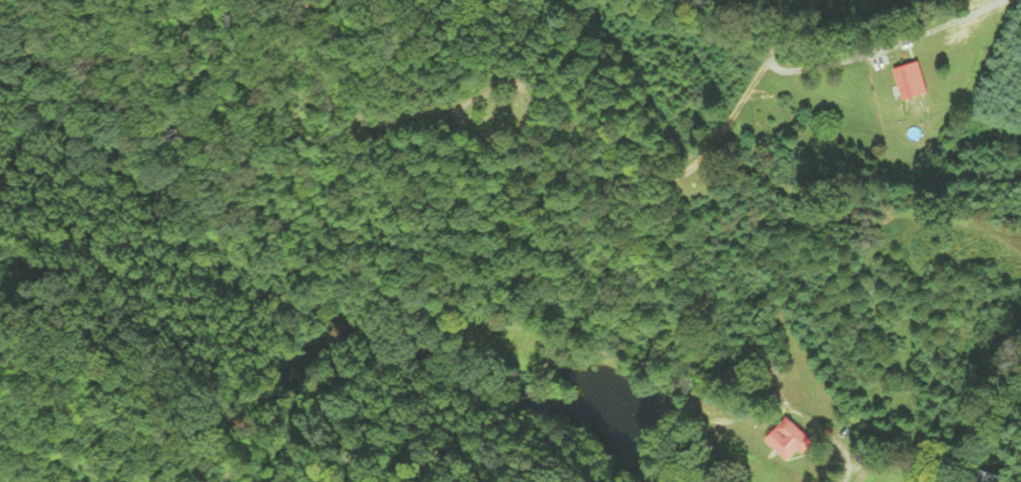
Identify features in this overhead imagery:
building: (906, 82)
building: (783, 440)

